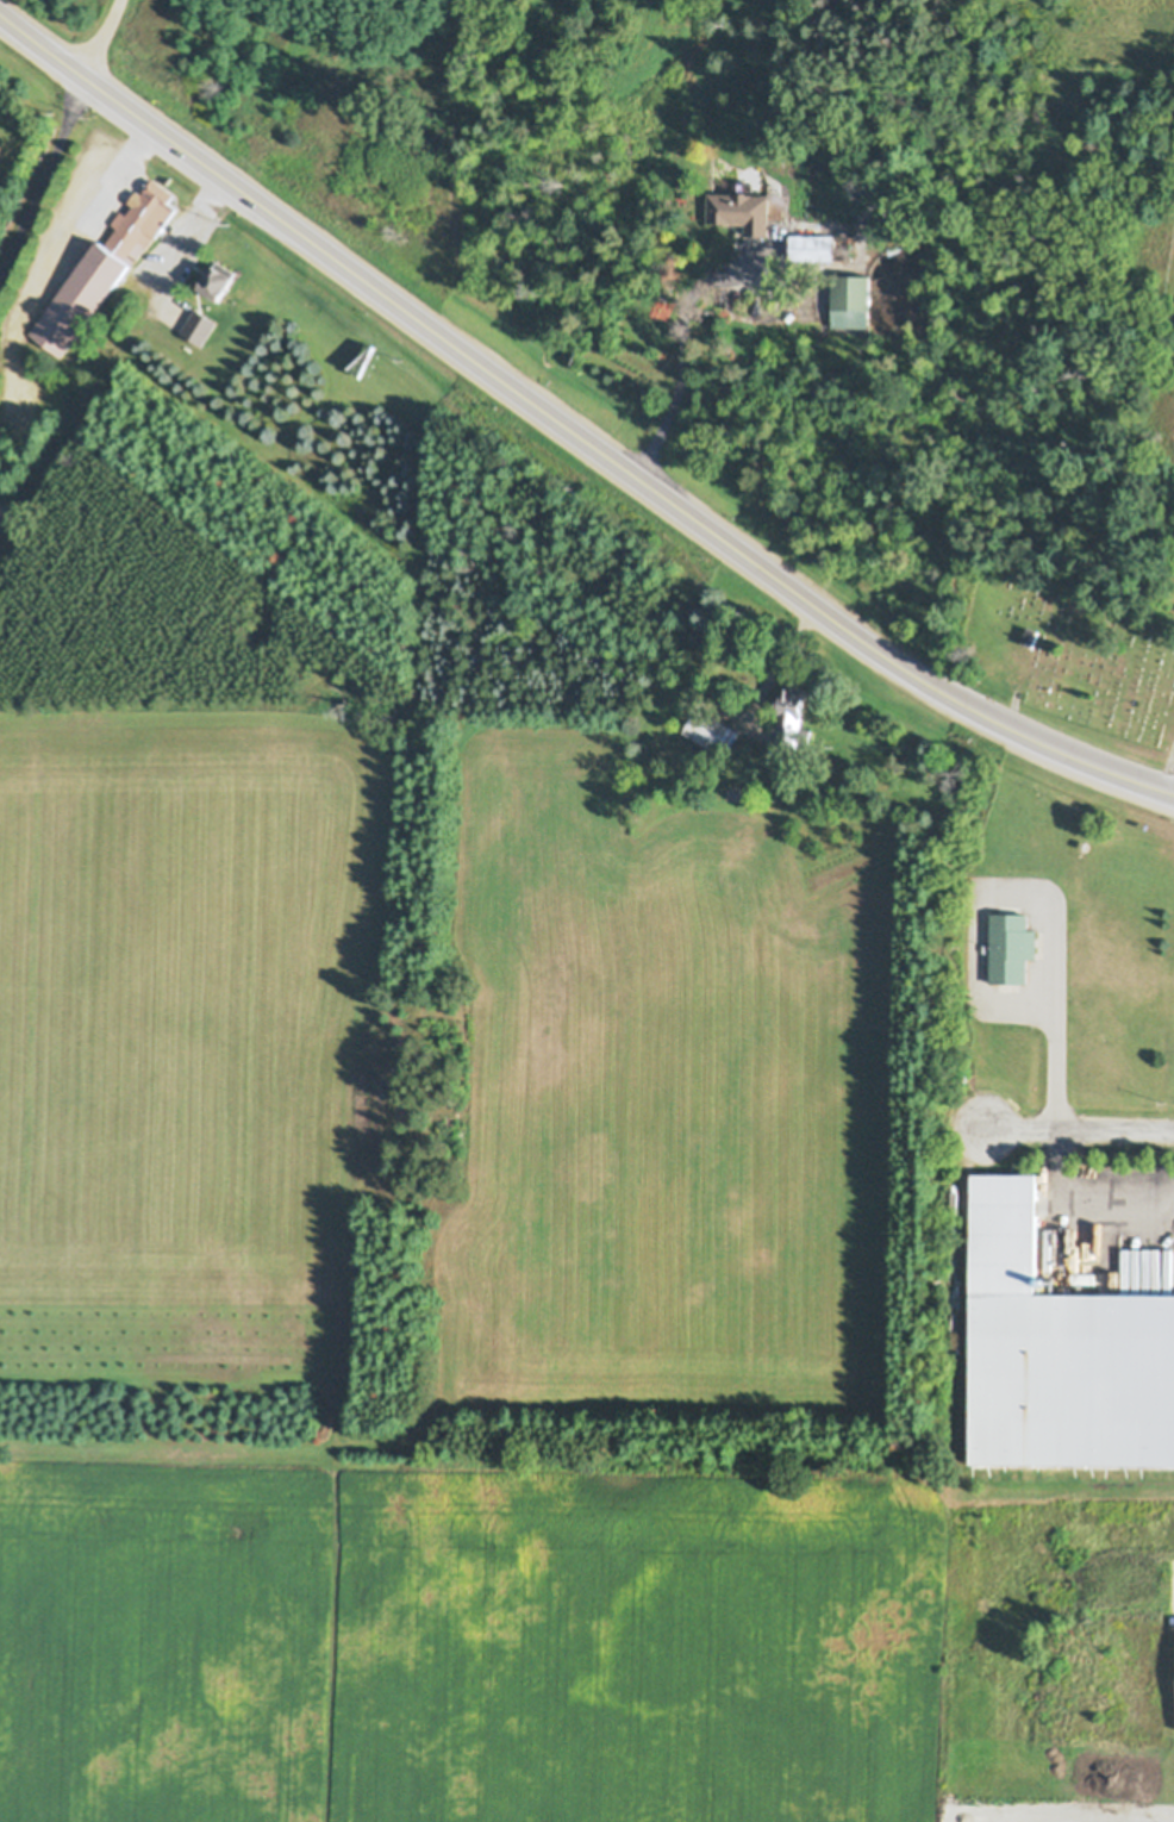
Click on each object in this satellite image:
road: (99, 36)
road: (43, 176)
building: (739, 213)
building: (893, 248)
building: (811, 249)
building: (102, 269)
road: (357, 274)
building: (217, 285)
building: (850, 295)
building: (198, 329)
road: (685, 352)
building: (1030, 631)
park: (1067, 660)
road: (932, 685)
building: (792, 710)
building: (712, 722)
building: (1011, 941)
road: (1055, 1056)
road: (1078, 1130)
road: (1076, 1203)
building: (1060, 1344)

